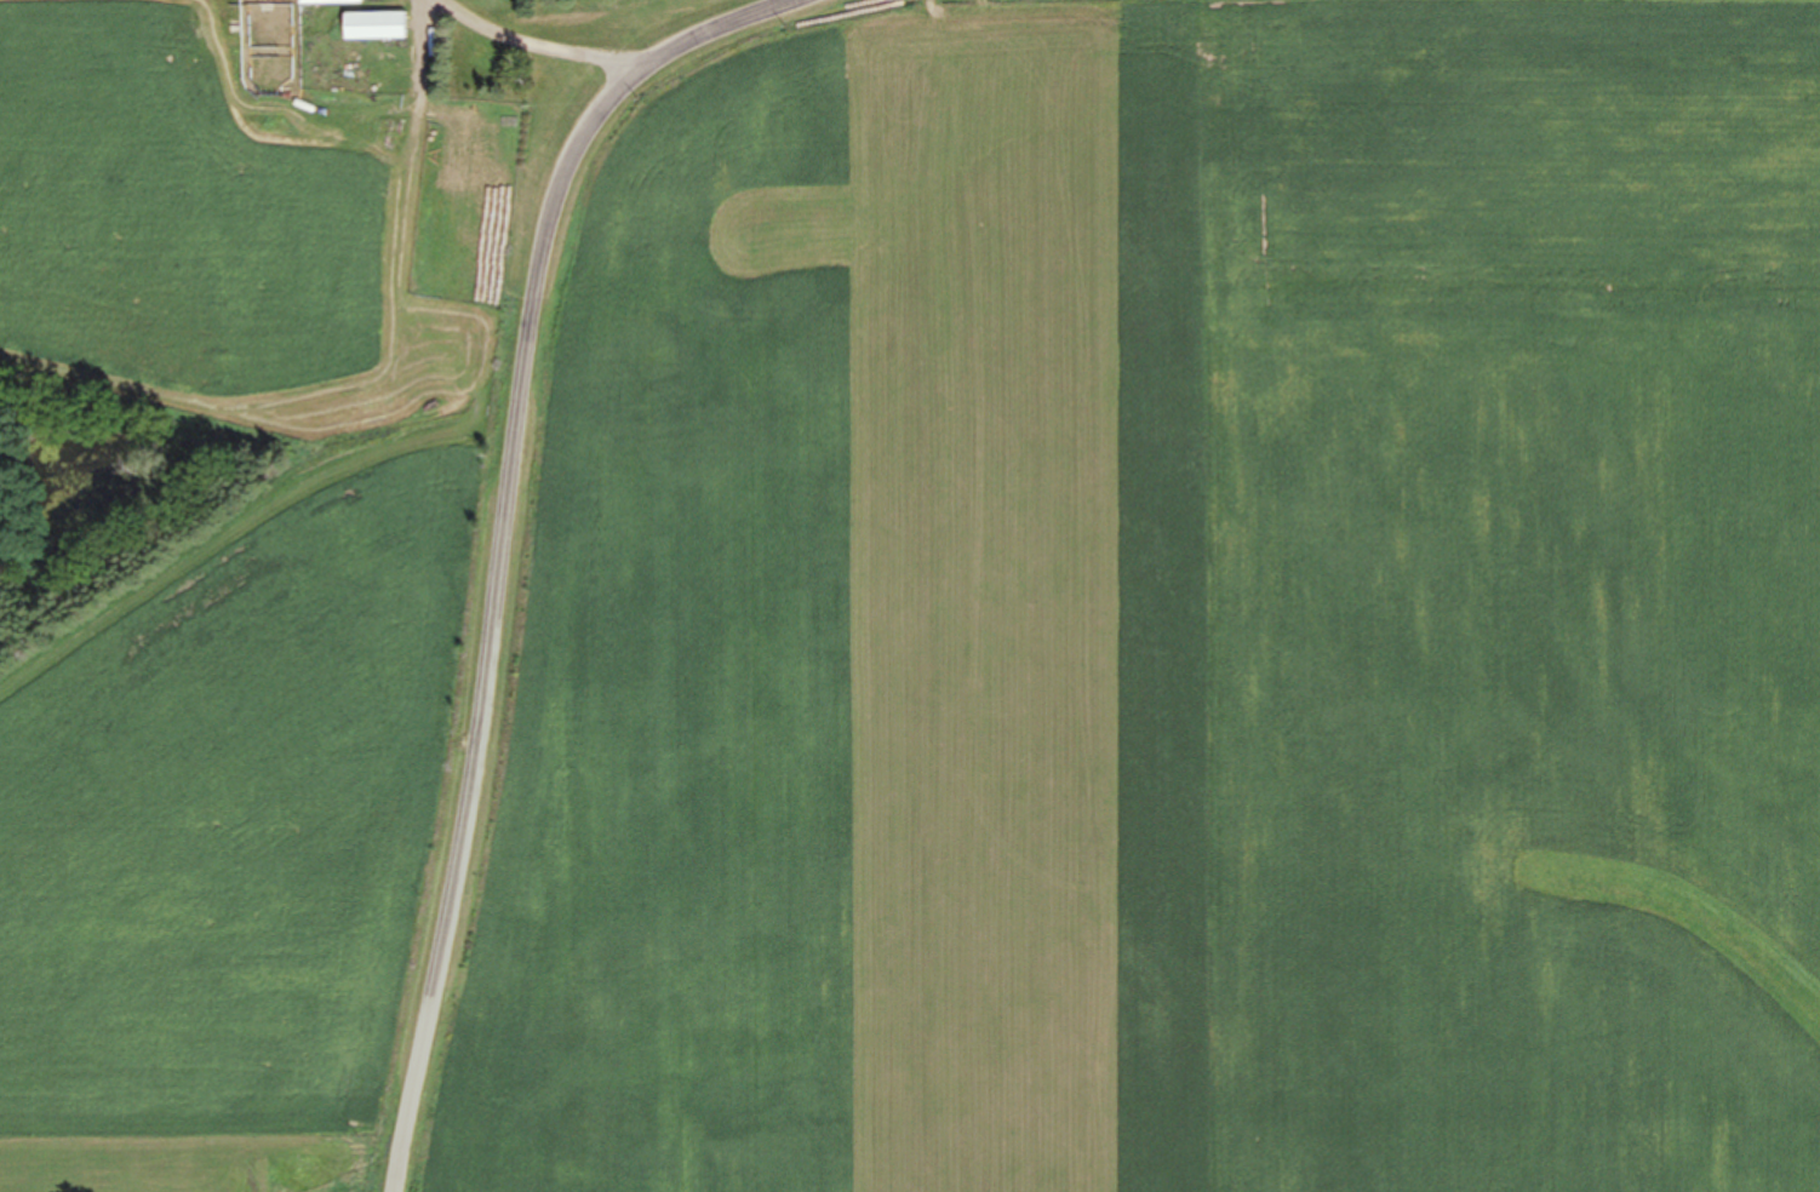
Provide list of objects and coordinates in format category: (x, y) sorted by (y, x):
building: (328, 2)
building: (373, 28)
road: (528, 46)
road: (503, 532)

